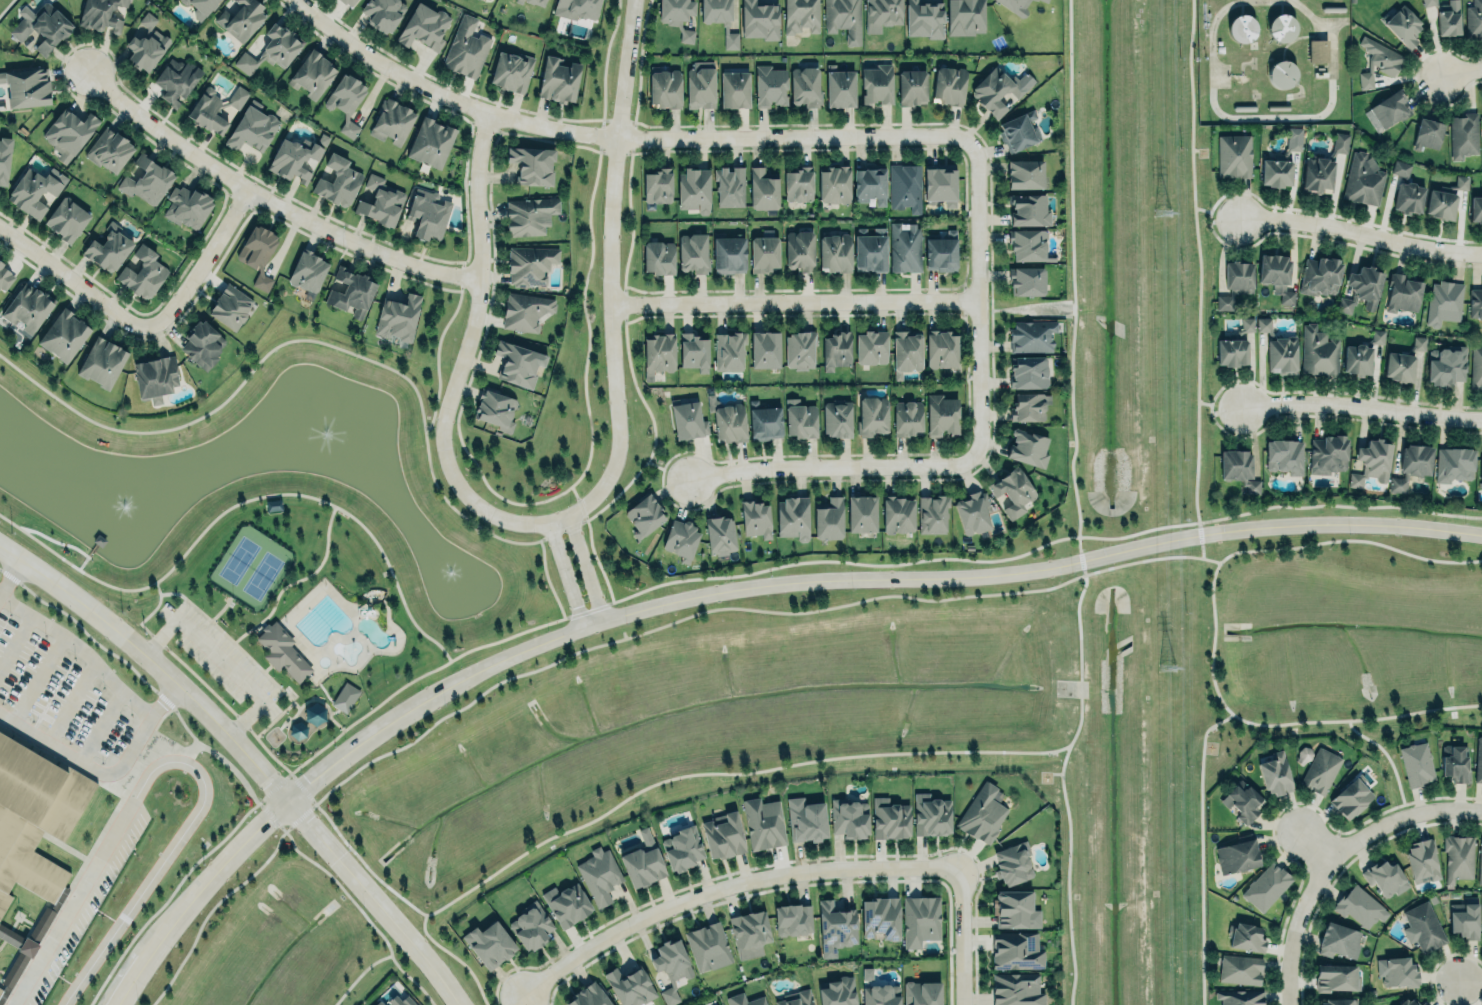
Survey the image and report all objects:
building: (1046, 0)
building: (348, 1)
building: (535, 2)
building: (1428, 2)
road: (5, 6)
building: (1015, 6)
building: (199, 7)
building: (576, 8)
building: (382, 13)
building: (100, 14)
building: (881, 14)
building: (677, 16)
building: (799, 16)
building: (965, 16)
building: (842, 18)
building: (1448, 18)
building: (241, 19)
building: (719, 19)
building: (923, 19)
building: (147, 20)
building: (759, 20)
building: (1474, 20)
building: (41, 25)
building: (1402, 25)
building: (424, 26)
building: (1241, 28)
building: (1282, 28)
building: (272, 48)
building: (466, 48)
building: (146, 49)
building: (1317, 50)
road: (60, 59)
building: (1378, 62)
building: (512, 72)
building: (312, 73)
building: (1282, 74)
road: (1460, 74)
building: (558, 79)
building: (176, 80)
building: (700, 84)
building: (876, 84)
building: (770, 85)
building: (948, 85)
building: (805, 86)
building: (840, 86)
building: (912, 86)
building: (26, 87)
building: (665, 87)
road: (454, 88)
building: (734, 89)
building: (998, 89)
building: (345, 99)
building: (214, 107)
building: (1481, 107)
building: (1387, 111)
building: (391, 121)
building: (251, 128)
building: (1018, 131)
building: (68, 133)
building: (1427, 134)
road: (616, 136)
building: (1463, 136)
building: (1294, 139)
building: (430, 141)
building: (1340, 142)
road: (833, 149)
building: (109, 150)
building: (1234, 156)
building: (4, 157)
building: (293, 159)
building: (532, 165)
building: (1401, 168)
building: (1276, 171)
building: (1025, 174)
building: (1317, 174)
building: (1363, 179)
building: (338, 180)
building: (940, 182)
building: (1461, 182)
building: (147, 183)
building: (657, 184)
building: (798, 184)
building: (834, 184)
building: (729, 185)
building: (869, 185)
building: (903, 185)
building: (34, 190)
building: (693, 190)
building: (762, 190)
building: (1408, 197)
building: (381, 201)
road: (270, 202)
building: (1440, 204)
building: (187, 205)
building: (1475, 208)
building: (1029, 209)
power tower: (1164, 213)
road: (1218, 213)
building: (427, 214)
building: (529, 214)
building: (66, 218)
road: (1362, 233)
building: (1028, 244)
building: (903, 245)
building: (108, 249)
building: (870, 249)
building: (799, 250)
road: (202, 251)
building: (691, 251)
building: (940, 251)
building: (835, 252)
building: (257, 253)
building: (764, 253)
building: (728, 255)
building: (658, 257)
road: (203, 259)
building: (529, 265)
road: (612, 266)
building: (308, 271)
building: (142, 272)
building: (1276, 276)
building: (1320, 276)
building: (5, 277)
road: (490, 277)
road: (1199, 278)
road: (459, 279)
building: (1026, 281)
building: (1236, 281)
road: (75, 282)
building: (1361, 289)
building: (352, 292)
building: (1402, 292)
road: (978, 300)
road: (962, 301)
building: (1444, 302)
building: (1475, 302)
road: (795, 303)
road: (1026, 304)
building: (27, 306)
road: (131, 306)
building: (230, 306)
building: (524, 310)
building: (397, 316)
road: (962, 321)
building: (1247, 324)
building: (1263, 324)
building: (63, 333)
building: (1031, 335)
building: (1377, 336)
road: (142, 338)
building: (202, 342)
building: (1419, 343)
building: (766, 345)
building: (871, 346)
building: (906, 348)
building: (941, 348)
building: (692, 349)
building: (799, 349)
building: (836, 349)
building: (729, 350)
building: (1317, 350)
building: (658, 352)
building: (1232, 352)
building: (1281, 355)
building: (1357, 360)
building: (101, 362)
building: (518, 363)
road: (461, 364)
building: (1446, 364)
building: (1399, 366)
building: (1476, 367)
building: (1028, 371)
building: (155, 378)
road: (581, 387)
road: (1220, 405)
building: (1029, 406)
road: (1362, 406)
building: (941, 413)
building: (872, 415)
building: (837, 417)
building: (907, 417)
building: (765, 419)
building: (799, 419)
building: (687, 420)
building: (727, 420)
building: (1026, 444)
building: (1282, 452)
building: (1328, 454)
building: (1372, 461)
building: (1453, 463)
building: (1411, 465)
building: (1481, 466)
road: (666, 468)
road: (831, 468)
building: (1239, 469)
building: (1012, 491)
road: (436, 493)
road: (238, 502)
fountain: (123, 505)
road: (1075, 505)
building: (861, 513)
building: (932, 513)
building: (973, 513)
building: (643, 514)
building: (898, 514)
building: (755, 518)
building: (792, 518)
building: (829, 518)
building: (719, 534)
park: (275, 535)
building: (680, 539)
road: (588, 544)
park: (239, 559)
road: (854, 564)
road: (583, 567)
road: (11, 572)
park: (262, 574)
road: (563, 574)
fountain: (450, 575)
road: (295, 580)
road: (544, 580)
road: (728, 590)
road: (221, 608)
road: (1214, 631)
water park: (329, 633)
road: (233, 640)
road: (619, 640)
road: (80, 646)
building: (282, 651)
parking lot: (221, 657)
road: (222, 660)
road: (267, 667)
power tower: (1165, 668)
road: (207, 686)
road: (165, 697)
building: (345, 697)
road: (315, 698)
road: (274, 718)
road: (155, 735)
road: (248, 755)
road: (176, 759)
road: (1389, 759)
building: (1478, 760)
building: (1416, 763)
building: (1455, 763)
road: (85, 764)
building: (1320, 770)
building: (1275, 773)
road: (644, 788)
building: (1351, 798)
building: (1242, 801)
building: (931, 814)
building: (982, 814)
road: (1402, 816)
building: (849, 818)
building: (890, 818)
building: (806, 820)
building: (763, 823)
building: (723, 834)
building: (31, 837)
road: (1316, 845)
building: (682, 847)
road: (1200, 851)
building: (1237, 856)
building: (1459, 857)
building: (1422, 860)
building: (642, 861)
building: (1013, 862)
building: (1480, 862)
building: (599, 875)
building: (1385, 878)
road: (729, 885)
building: (1266, 886)
road: (342, 888)
building: (567, 904)
building: (1359, 906)
building: (1013, 908)
building: (881, 916)
building: (1465, 918)
building: (793, 919)
building: (921, 919)
building: (41, 924)
building: (837, 924)
building: (531, 925)
building: (1423, 926)
road: (1298, 927)
building: (749, 929)
road: (962, 936)
building: (1246, 937)
building: (1338, 940)
building: (489, 944)
building: (708, 946)
building: (1016, 950)
building: (671, 966)
building: (1240, 968)
building: (1399, 972)
road: (358, 974)
building: (867, 974)
building: (1336, 977)
road: (1472, 981)
building: (629, 986)
building: (1016, 989)
building: (838, 992)
building: (921, 992)
building: (590, 994)
building: (881, 994)
building: (1240, 997)
road: (515, 998)
building: (796, 998)
building: (396, 1000)
building: (744, 1000)
building: (1339, 1001)
building: (1405, 1002)
building: (1423, 1003)
building: (718, 1004)

